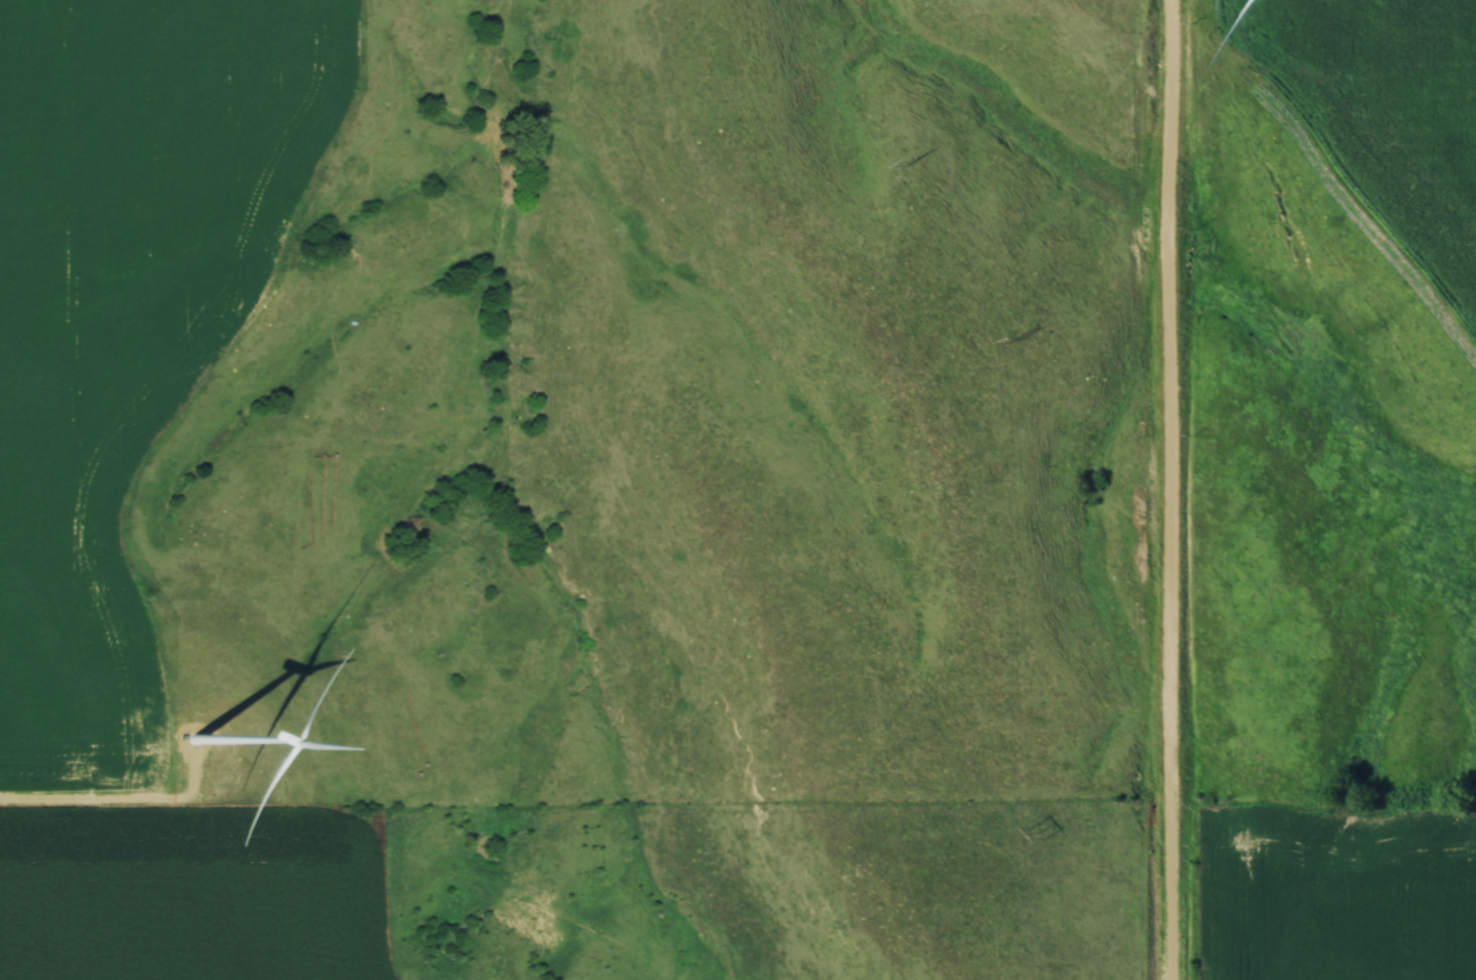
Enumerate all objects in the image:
power tower: (909, 164)
power tower: (1016, 339)
road: (1177, 490)
wind turbine: (193, 739)
road: (85, 807)
power tower: (1038, 832)

